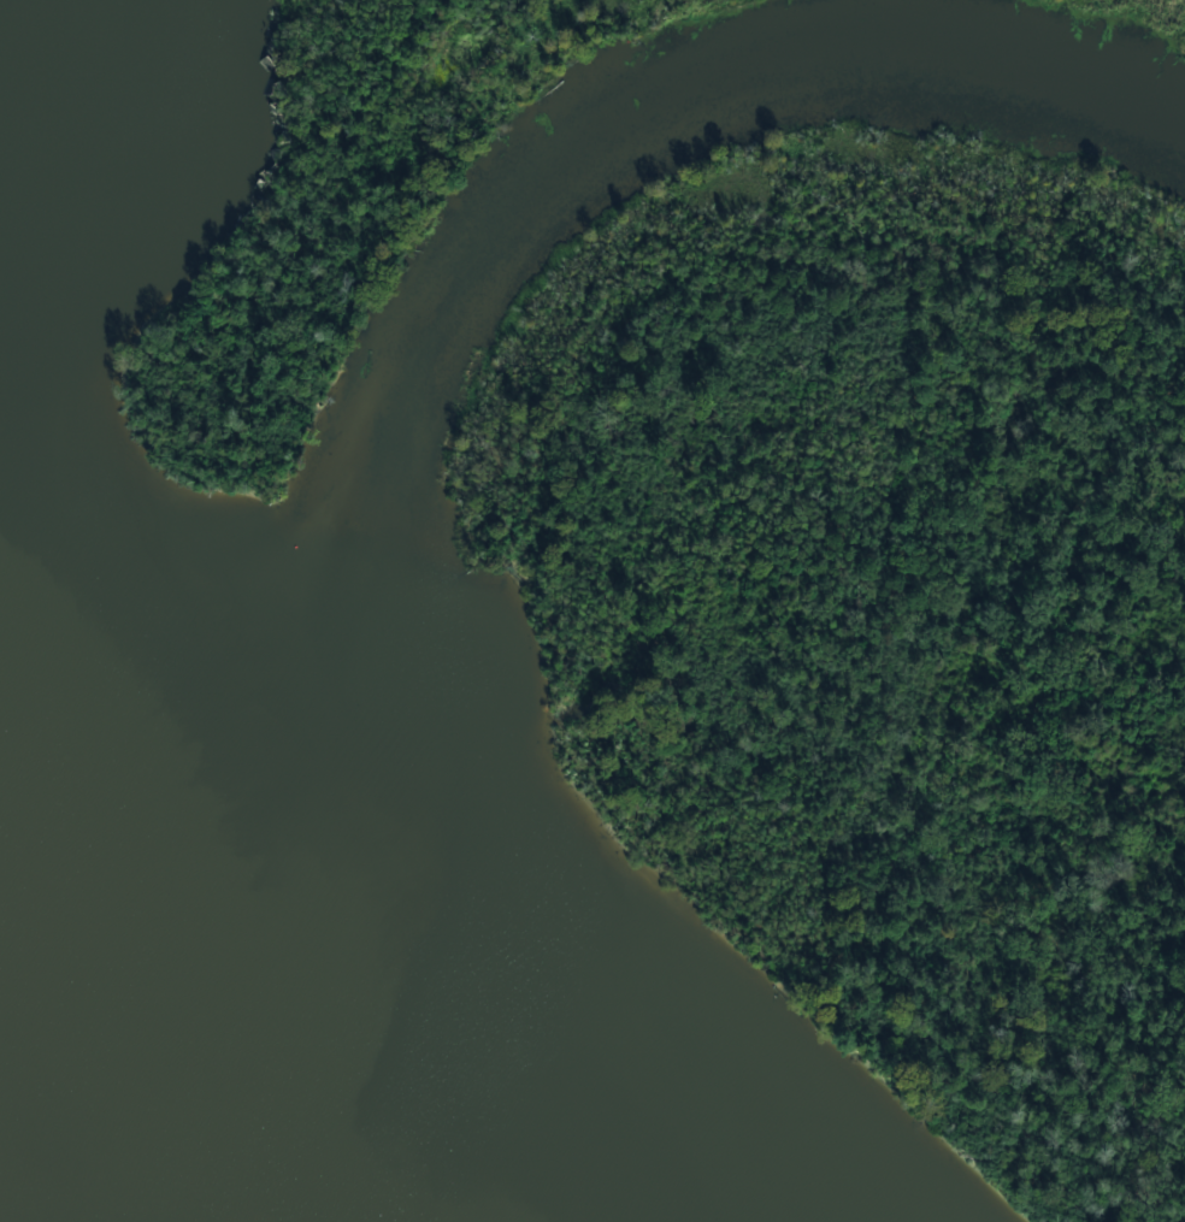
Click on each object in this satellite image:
river: (52, 76)
river: (349, 928)

